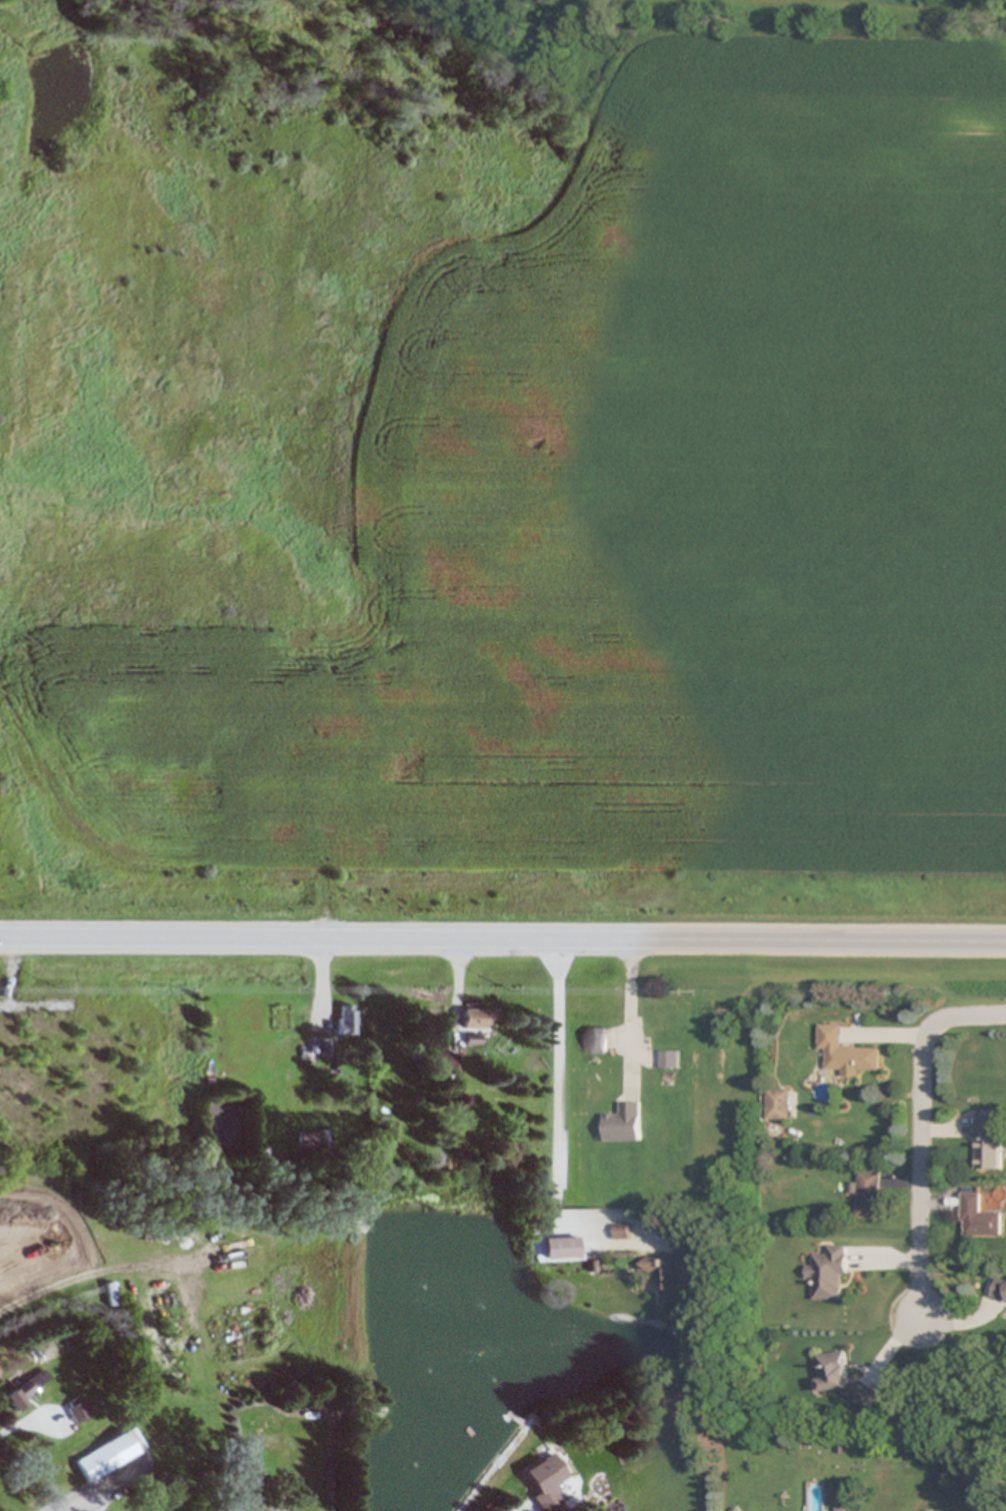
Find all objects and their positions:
crop: (500, 489)
road: (503, 937)
building: (475, 1017)
building: (344, 1019)
building: (597, 1039)
building: (319, 1046)
building: (847, 1054)
building: (670, 1058)
building: (439, 1060)
road: (556, 1080)
building: (779, 1105)
building: (625, 1123)
road: (922, 1132)
building: (988, 1139)
building: (306, 1140)
building: (869, 1193)
building: (980, 1217)
building: (622, 1231)
building: (561, 1246)
building: (829, 1272)
building: (672, 1274)
building: (1000, 1292)
building: (844, 1379)
building: (26, 1389)
building: (76, 1410)
building: (109, 1453)
building: (547, 1480)
building: (840, 1509)

